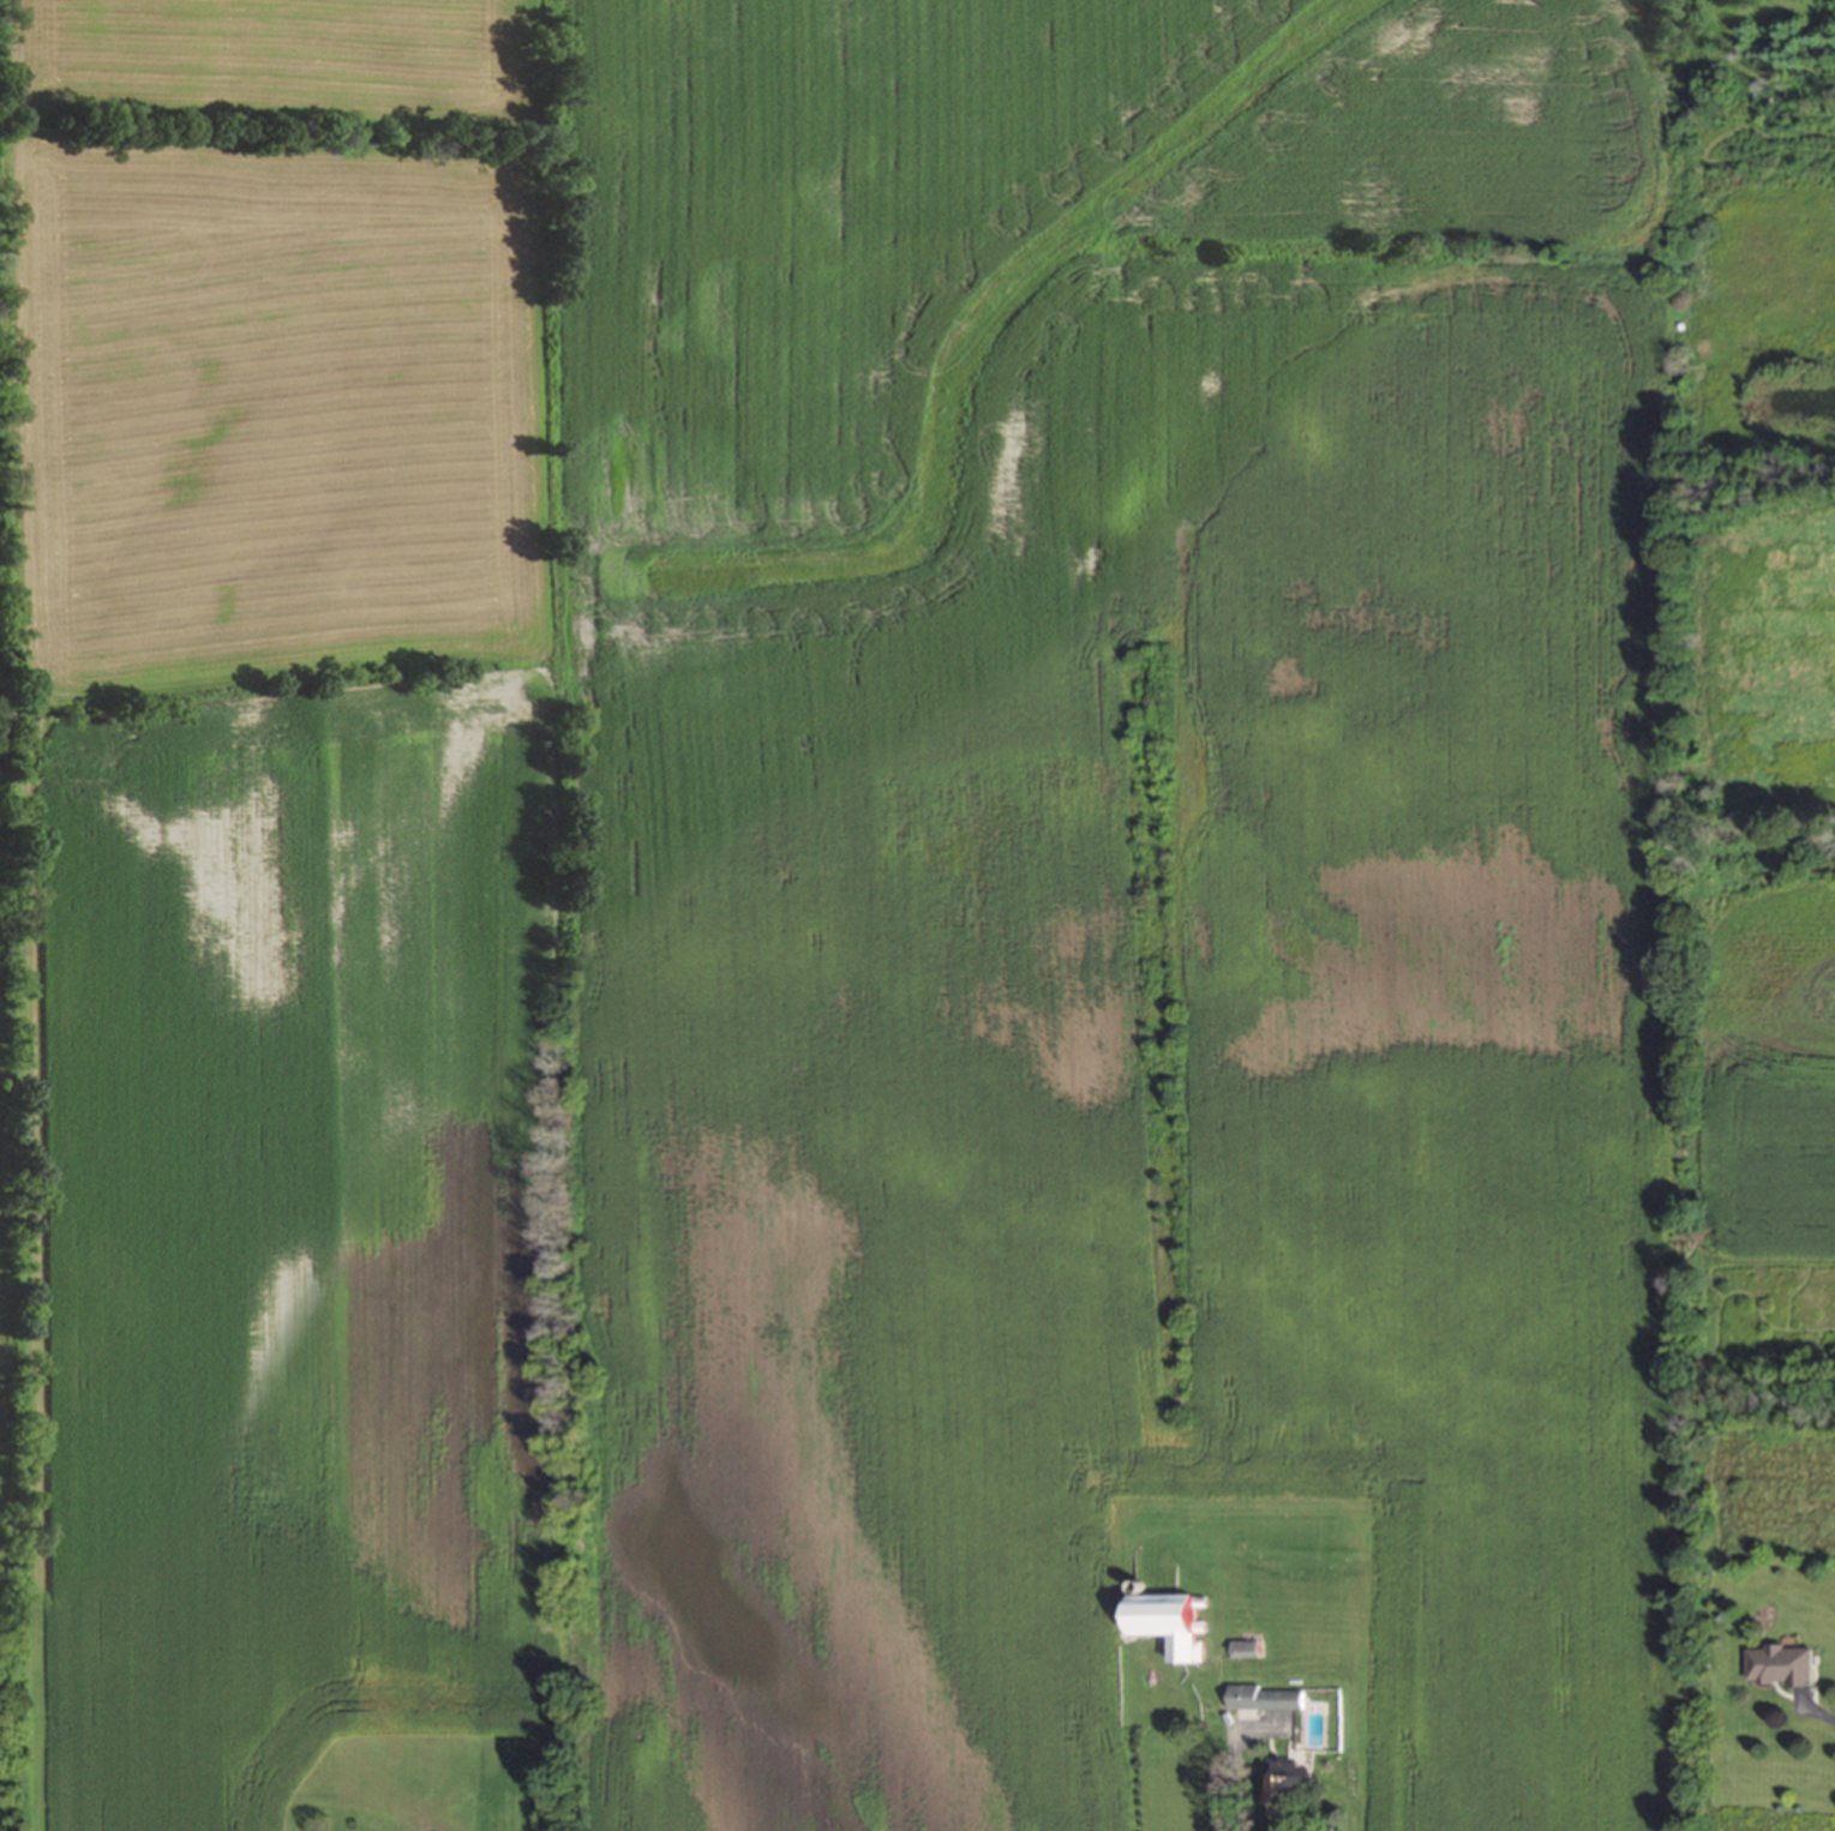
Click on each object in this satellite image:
building: (1173, 1620)
building: (1779, 1663)
building: (1266, 1697)
road: (1830, 1718)
building: (412, 1769)
road: (1239, 1779)
building: (1289, 1783)

